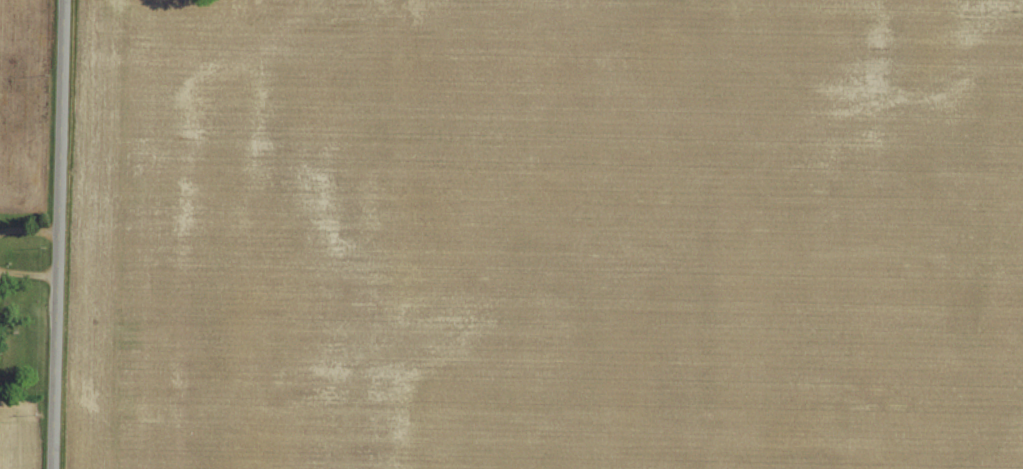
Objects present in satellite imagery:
road: (27, 227)
road: (55, 234)
road: (27, 272)

